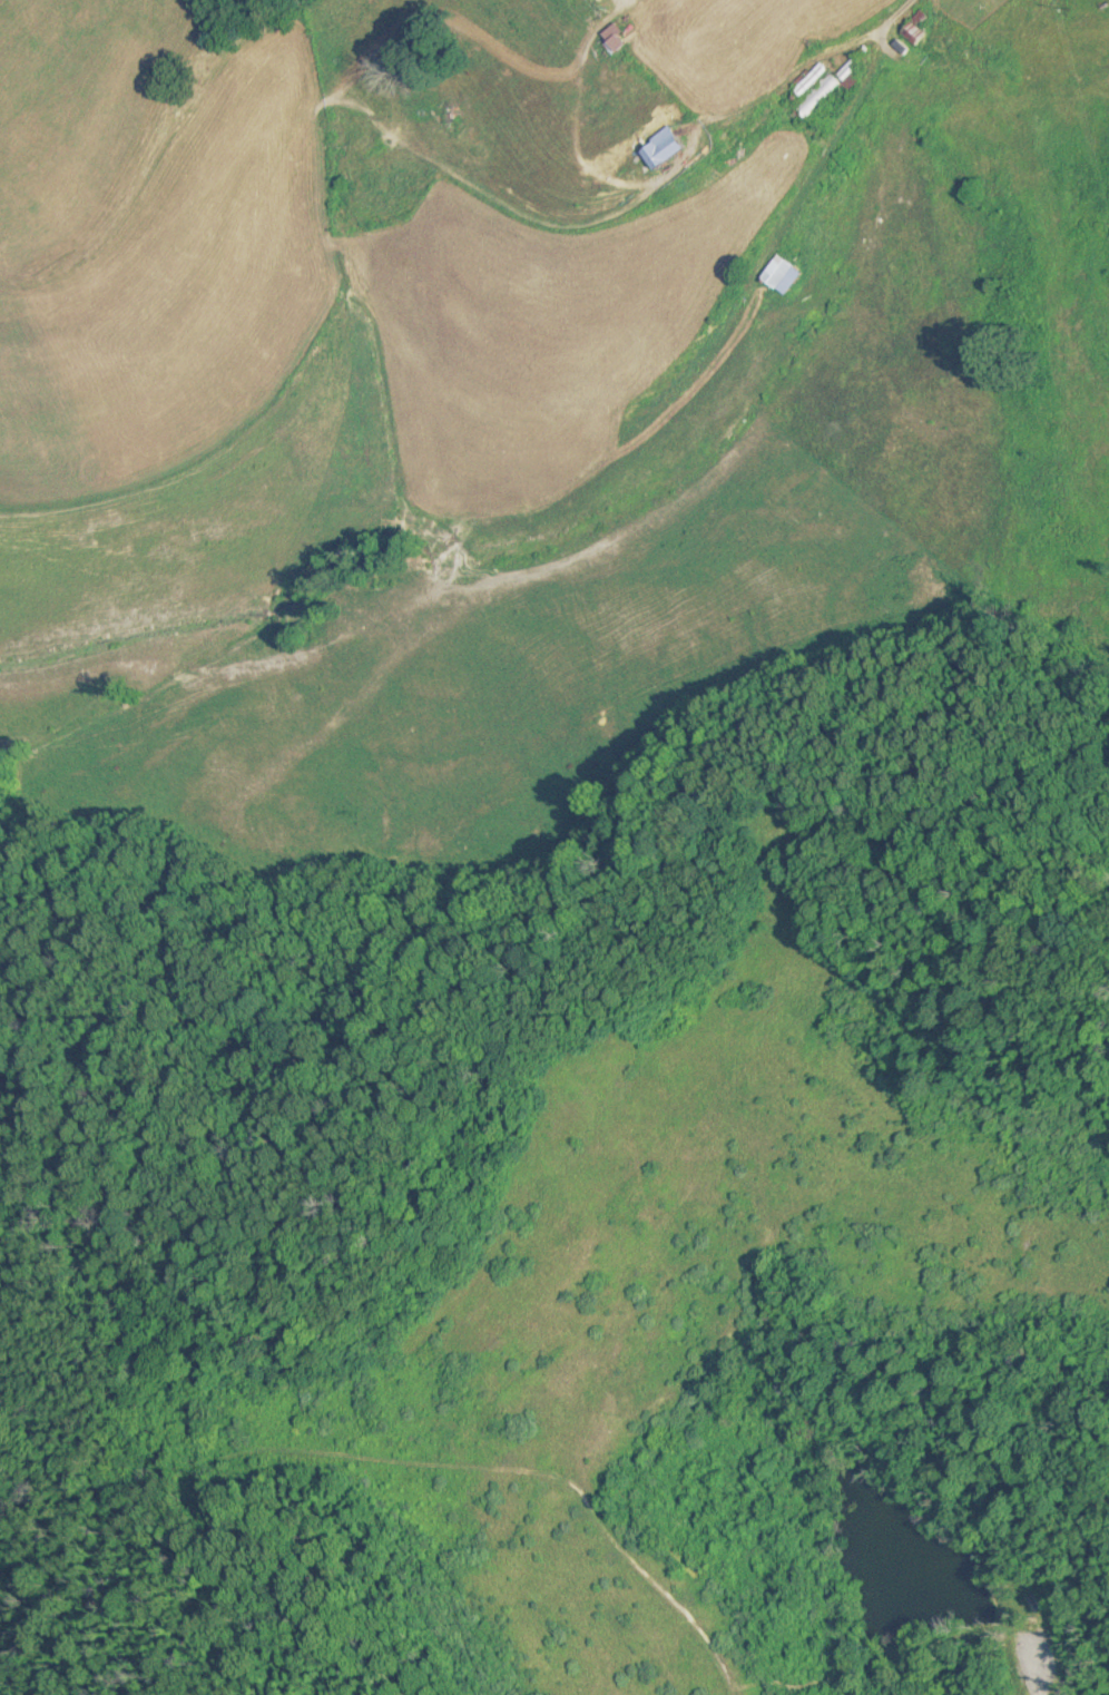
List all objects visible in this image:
building: (909, 33)
building: (806, 80)
building: (825, 89)
road: (828, 140)
building: (658, 148)
building: (778, 276)

